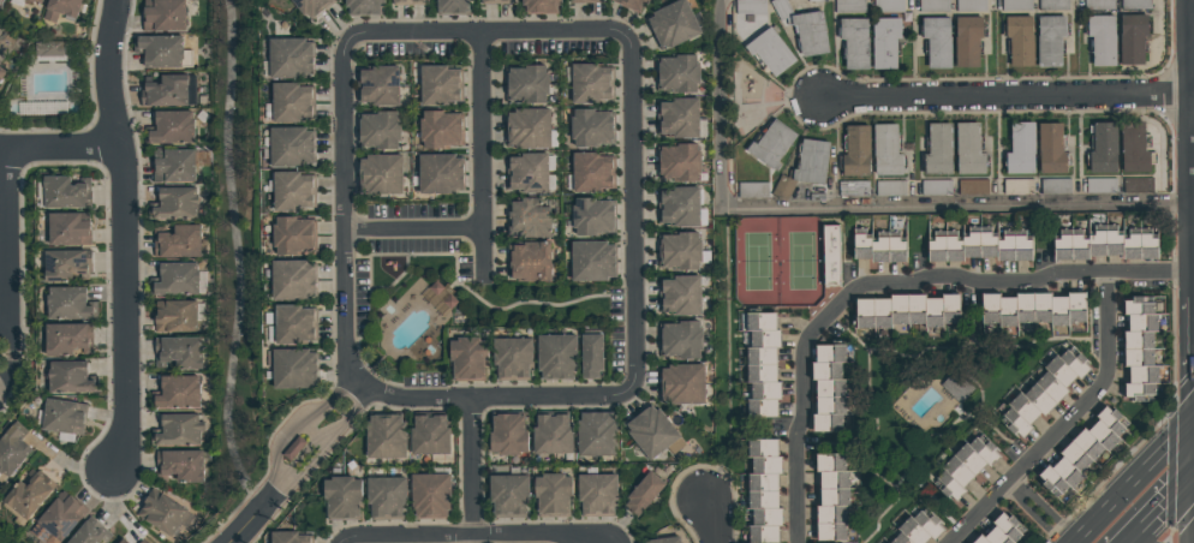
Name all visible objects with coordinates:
building: (34, 1)
building: (585, 1)
building: (814, 1)
building: (407, 2)
building: (496, 2)
building: (631, 5)
building: (933, 5)
building: (969, 5)
building: (1015, 5)
building: (1052, 5)
building: (1098, 5)
building: (1135, 5)
building: (539, 6)
building: (848, 6)
building: (888, 6)
building: (311, 7)
building: (363, 7)
building: (452, 7)
building: (748, 7)
building: (781, 8)
building: (60, 10)
building: (163, 16)
building: (671, 24)
road: (490, 34)
building: (811, 34)
building: (1132, 38)
building: (1102, 40)
building: (966, 41)
building: (1019, 41)
building: (1049, 41)
building: (884, 42)
building: (936, 42)
building: (854, 43)
building: (49, 49)
building: (159, 52)
building: (769, 52)
building: (289, 58)
building: (676, 73)
building: (1, 74)
building: (590, 83)
building: (525, 84)
building: (438, 85)
building: (377, 86)
building: (166, 91)
road: (1007, 100)
building: (292, 102)
building: (43, 108)
building: (677, 118)
building: (591, 127)
building: (169, 129)
building: (527, 129)
building: (440, 130)
building: (378, 131)
building: (771, 144)
building: (289, 147)
road: (55, 148)
building: (1104, 148)
building: (1020, 149)
building: (1050, 149)
building: (1133, 149)
building: (937, 150)
building: (968, 150)
building: (855, 151)
building: (886, 151)
road: (479, 161)
building: (677, 162)
building: (811, 162)
building: (174, 167)
building: (526, 173)
building: (591, 173)
building: (378, 174)
building: (438, 174)
building: (1136, 185)
building: (1055, 186)
building: (1100, 186)
building: (890, 187)
building: (935, 187)
building: (972, 187)
building: (1017, 187)
building: (782, 189)
building: (853, 189)
building: (752, 190)
building: (292, 191)
building: (65, 193)
building: (174, 204)
building: (677, 207)
road: (852, 207)
road: (346, 211)
building: (592, 216)
building: (526, 219)
road: (631, 219)
road: (412, 227)
building: (66, 231)
road: (125, 235)
building: (292, 235)
road: (2, 238)
building: (177, 241)
building: (1105, 246)
building: (978, 250)
building: (679, 252)
building: (830, 256)
building: (878, 256)
road: (237, 258)
building: (530, 262)
building: (591, 262)
park: (777, 262)
building: (65, 265)
road: (1022, 279)
building: (174, 280)
building: (292, 280)
building: (679, 296)
building: (441, 297)
building: (66, 305)
building: (1032, 309)
building: (906, 311)
road: (0, 315)
building: (174, 317)
building: (293, 324)
building: (66, 340)
building: (680, 340)
building: (1139, 350)
building: (177, 353)
building: (555, 357)
building: (590, 357)
building: (467, 358)
building: (511, 358)
building: (762, 365)
building: (292, 369)
building: (68, 378)
building: (682, 384)
building: (955, 387)
building: (826, 389)
road: (1096, 392)
building: (175, 393)
road: (492, 393)
building: (1043, 393)
road: (802, 407)
building: (62, 418)
road: (295, 429)
building: (178, 430)
building: (651, 432)
road: (317, 434)
building: (553, 435)
building: (597, 435)
building: (429, 436)
building: (507, 436)
building: (384, 437)
building: (292, 448)
road: (328, 449)
building: (11, 450)
building: (1081, 452)
building: (179, 465)
road: (468, 467)
building: (962, 467)
road: (1134, 482)
building: (763, 490)
building: (643, 494)
building: (28, 495)
building: (598, 495)
building: (429, 496)
building: (507, 496)
building: (551, 496)
building: (384, 497)
building: (830, 497)
building: (341, 499)
road: (1160, 508)
road: (975, 511)
road: (1037, 511)
building: (160, 512)
building: (61, 515)
road: (711, 520)
road: (251, 521)
building: (915, 529)
building: (999, 531)
building: (89, 532)
road: (465, 533)
building: (288, 538)
road: (342, 538)
building: (664, 541)
building: (121, 542)

